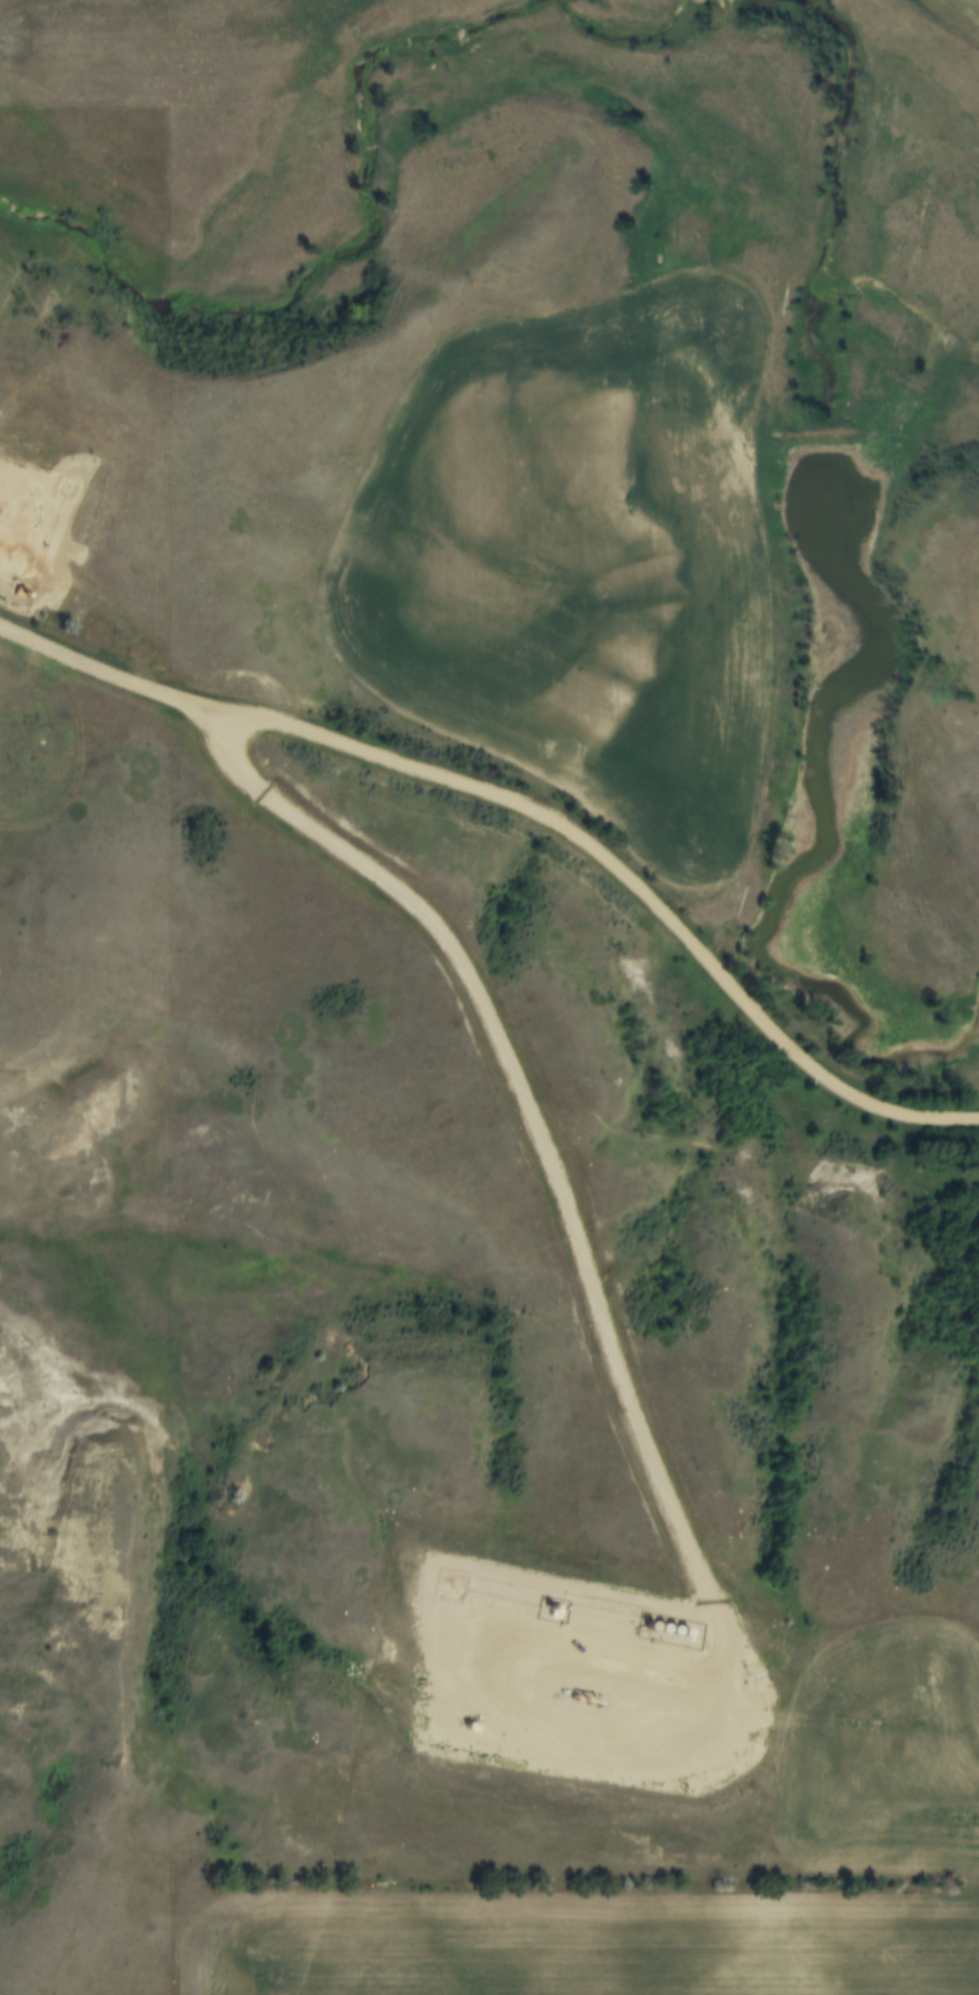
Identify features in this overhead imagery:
road: (30, 542)
road: (531, 814)
road: (626, 1397)

